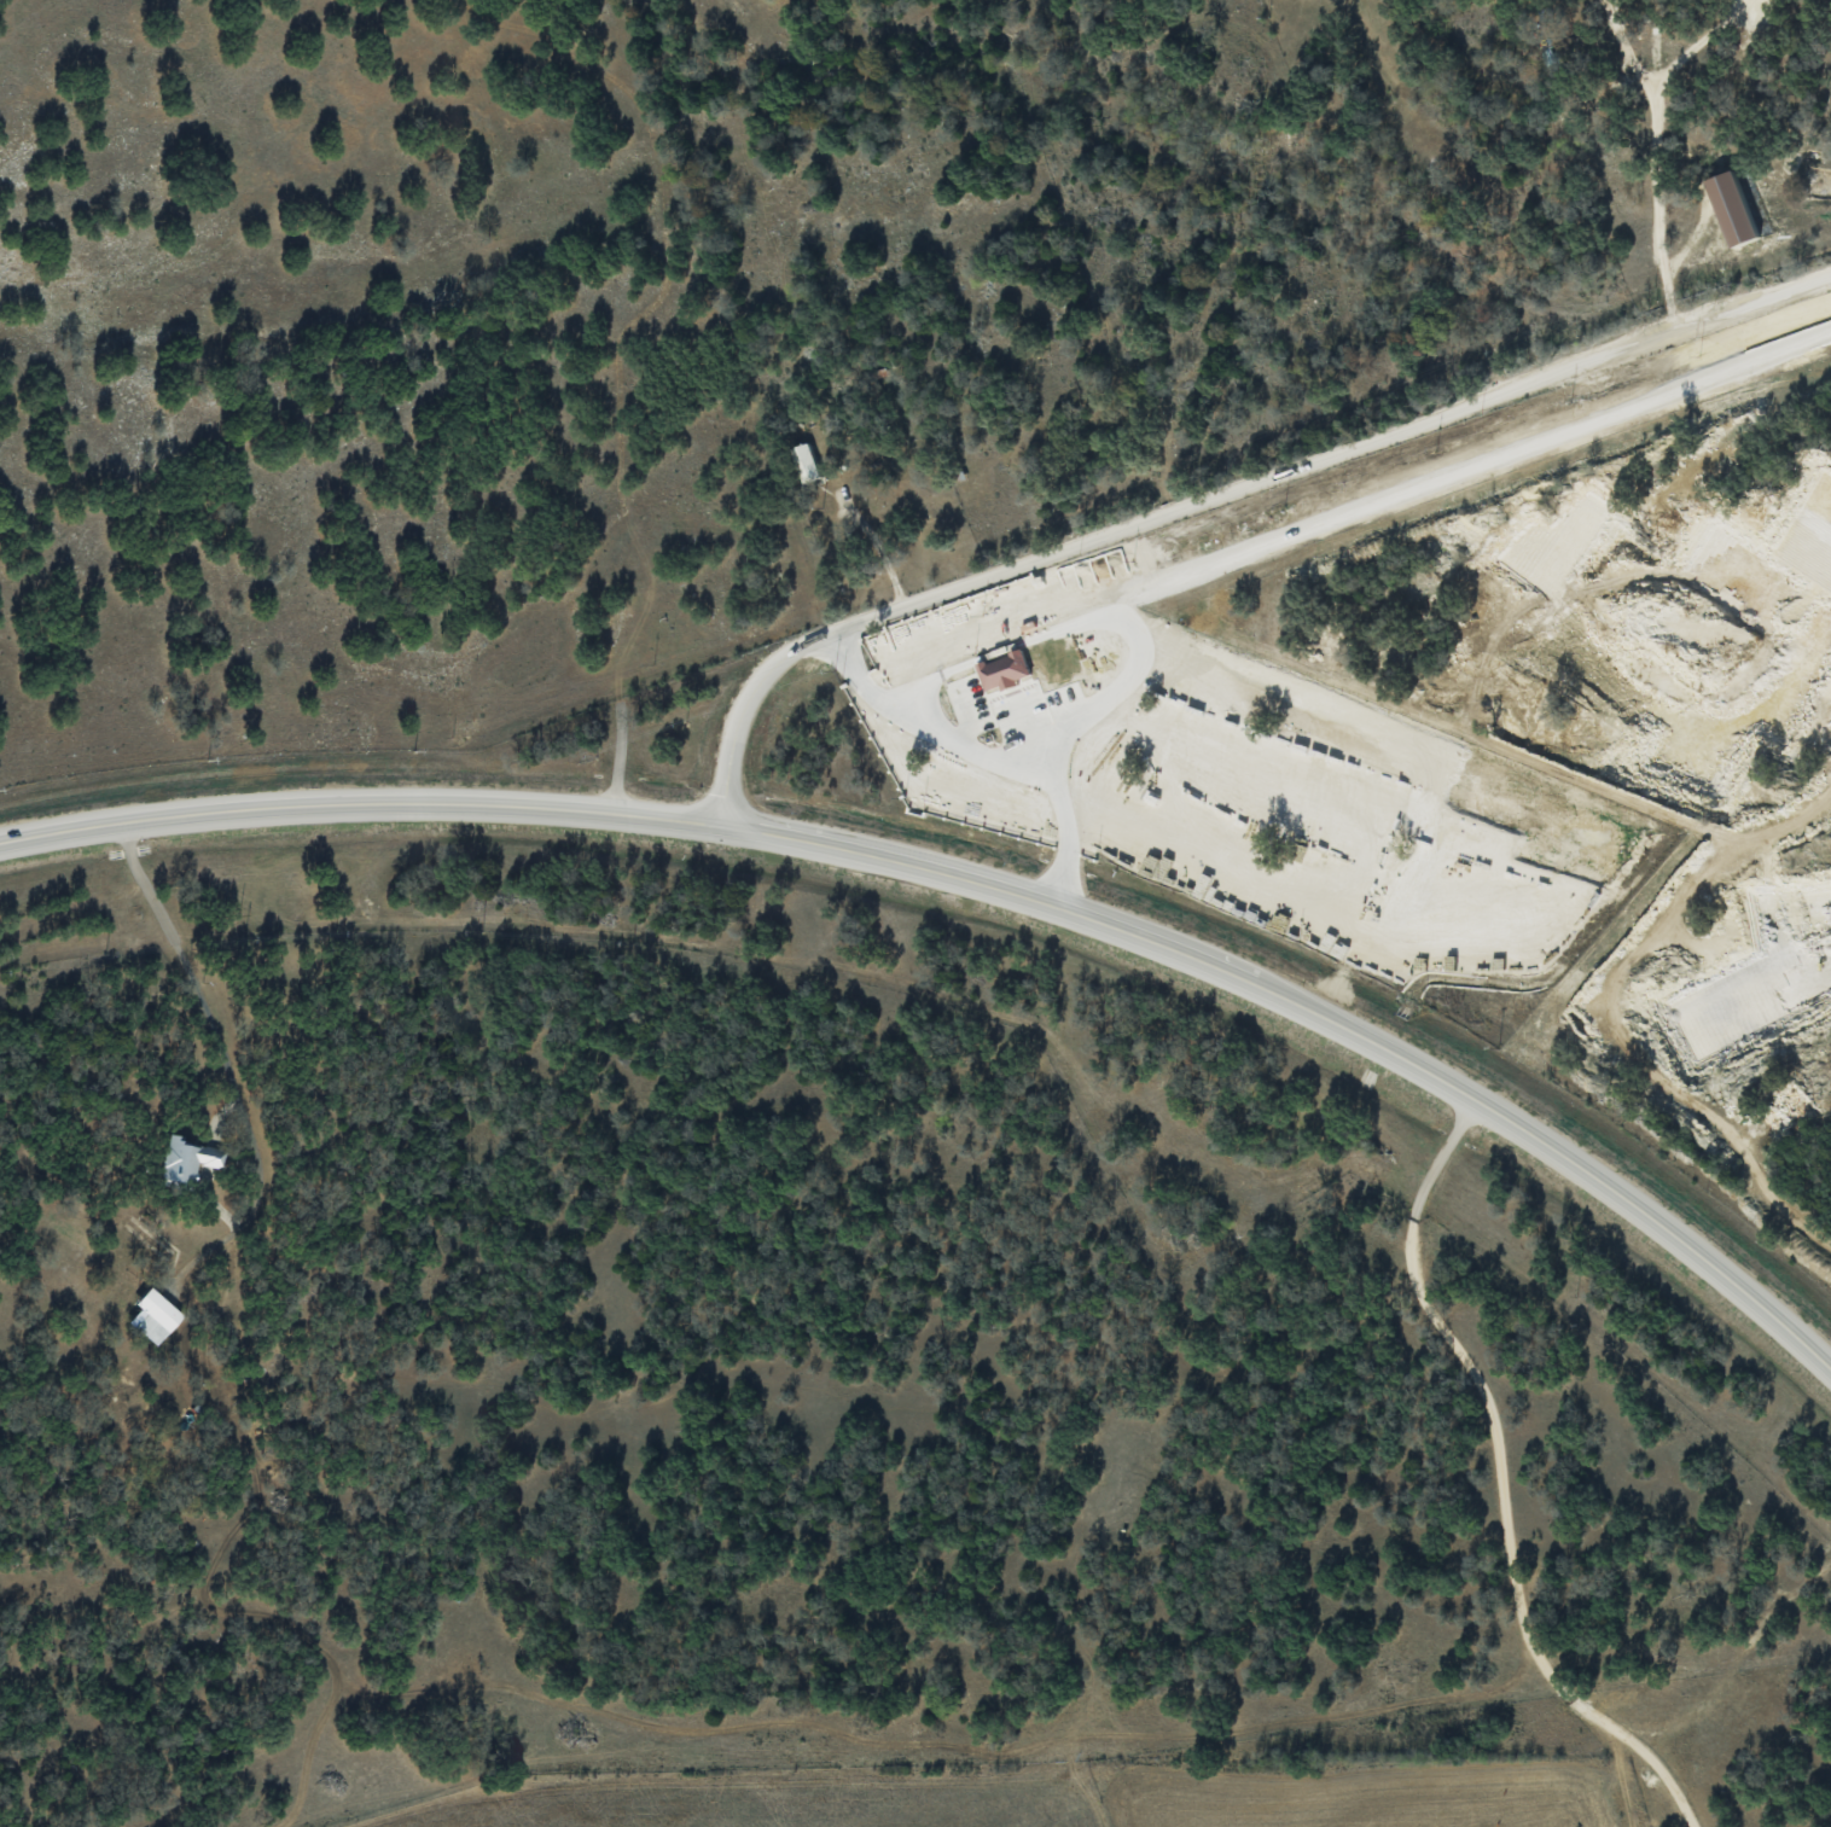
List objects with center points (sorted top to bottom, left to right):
building: (1730, 209)
building: (801, 462)
road: (1217, 496)
road: (876, 546)
building: (1001, 670)
road: (969, 760)
road: (358, 802)
road: (1316, 1009)
road: (223, 1053)
building: (186, 1159)
building: (151, 1315)
road: (1498, 1482)

